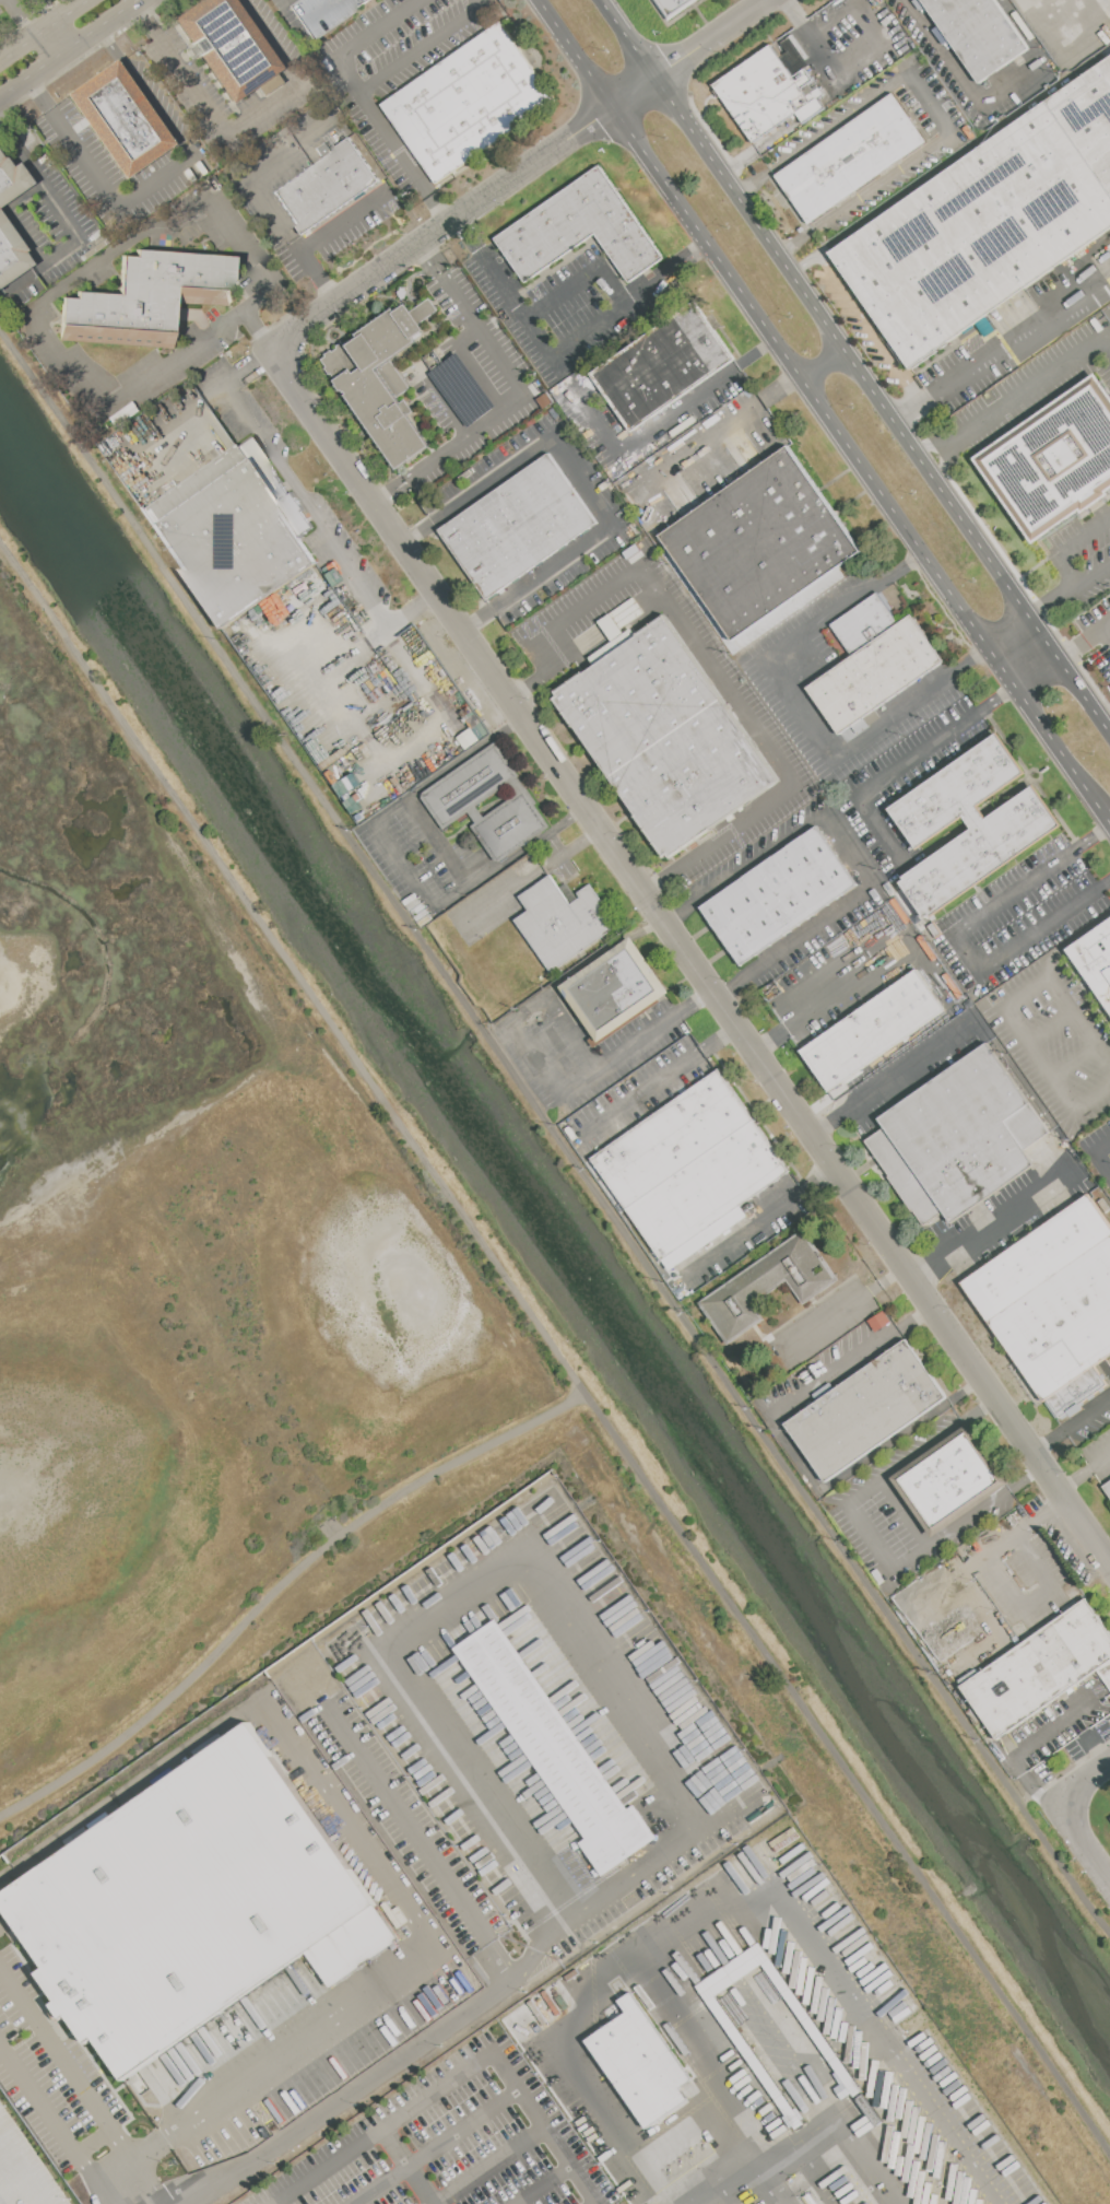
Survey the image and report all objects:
road: (1026, 4)
road: (1036, 4)
building: (673, 7)
road: (50, 11)
road: (796, 17)
road: (22, 20)
road: (45, 32)
building: (979, 34)
road: (361, 40)
road: (879, 40)
road: (1064, 44)
building: (229, 47)
road: (421, 48)
road: (71, 49)
road: (575, 55)
road: (692, 55)
building: (767, 98)
road: (992, 98)
building: (468, 103)
road: (929, 105)
building: (119, 118)
road: (239, 124)
road: (403, 159)
building: (851, 159)
road: (531, 167)
road: (152, 176)
building: (11, 178)
building: (326, 186)
road: (268, 198)
road: (68, 221)
building: (987, 221)
road: (345, 222)
building: (579, 230)
building: (10, 253)
road: (72, 279)
road: (578, 284)
road: (361, 288)
building: (147, 297)
road: (861, 314)
road: (560, 350)
road: (1001, 351)
road: (820, 363)
road: (474, 364)
building: (662, 366)
road: (855, 366)
building: (382, 378)
road: (432, 389)
road: (1029, 392)
road: (524, 395)
road: (662, 418)
road: (701, 444)
road: (948, 448)
building: (1055, 461)
road: (858, 465)
road: (706, 468)
road: (578, 482)
road: (308, 503)
building: (518, 526)
building: (233, 529)
building: (760, 543)
road: (1074, 550)
road: (1096, 575)
road: (1055, 600)
parking lot: (1097, 631)
road: (1011, 636)
road: (1106, 637)
road: (1085, 643)
road: (708, 664)
building: (873, 664)
road: (796, 711)
building: (666, 737)
road: (900, 764)
building: (454, 801)
road: (571, 816)
road: (1107, 822)
building: (1014, 826)
road: (427, 828)
road: (846, 849)
road: (404, 864)
building: (779, 895)
building: (564, 922)
road: (959, 936)
road: (849, 938)
road: (1074, 940)
road: (690, 957)
building: (1096, 959)
road: (862, 976)
building: (615, 989)
road: (1004, 1010)
road: (1052, 1025)
building: (873, 1031)
road: (1075, 1059)
road: (605, 1068)
road: (894, 1078)
road: (657, 1083)
road: (553, 1130)
building: (959, 1138)
building: (673, 1139)
road: (1098, 1156)
building: (708, 1189)
road: (759, 1222)
road: (993, 1222)
park: (206, 1264)
building: (769, 1285)
building: (1054, 1304)
road: (845, 1311)
road: (555, 1351)
road: (859, 1359)
building: (865, 1411)
road: (1072, 1426)
road: (1085, 1473)
building: (950, 1479)
building: (1108, 1488)
road: (905, 1512)
road: (870, 1538)
road: (975, 1561)
road: (533, 1572)
road: (279, 1586)
road: (1040, 1599)
building: (1040, 1669)
building: (1106, 1673)
road: (1081, 1707)
parking lot: (552, 1726)
road: (1037, 1740)
building: (556, 1748)
road: (156, 1771)
road: (1087, 1782)
parking lot: (406, 1822)
road: (417, 1838)
road: (1085, 1847)
road: (774, 1894)
building: (191, 1907)
building: (746, 1963)
road: (393, 1973)
parking lot: (311, 2005)
road: (798, 2021)
building: (639, 2061)
road: (68, 2062)
parking lot: (51, 2075)
road: (460, 2076)
road: (368, 2078)
road: (754, 2082)
road: (42, 2106)
road: (819, 2126)
road: (94, 2139)
parking lot: (454, 2143)
road: (436, 2146)
road: (131, 2162)
road: (410, 2167)
road: (491, 2167)
parking lot: (23, 2169)
road: (96, 2184)
road: (140, 2184)
road: (776, 2184)
road: (546, 2187)
road: (7, 2193)

